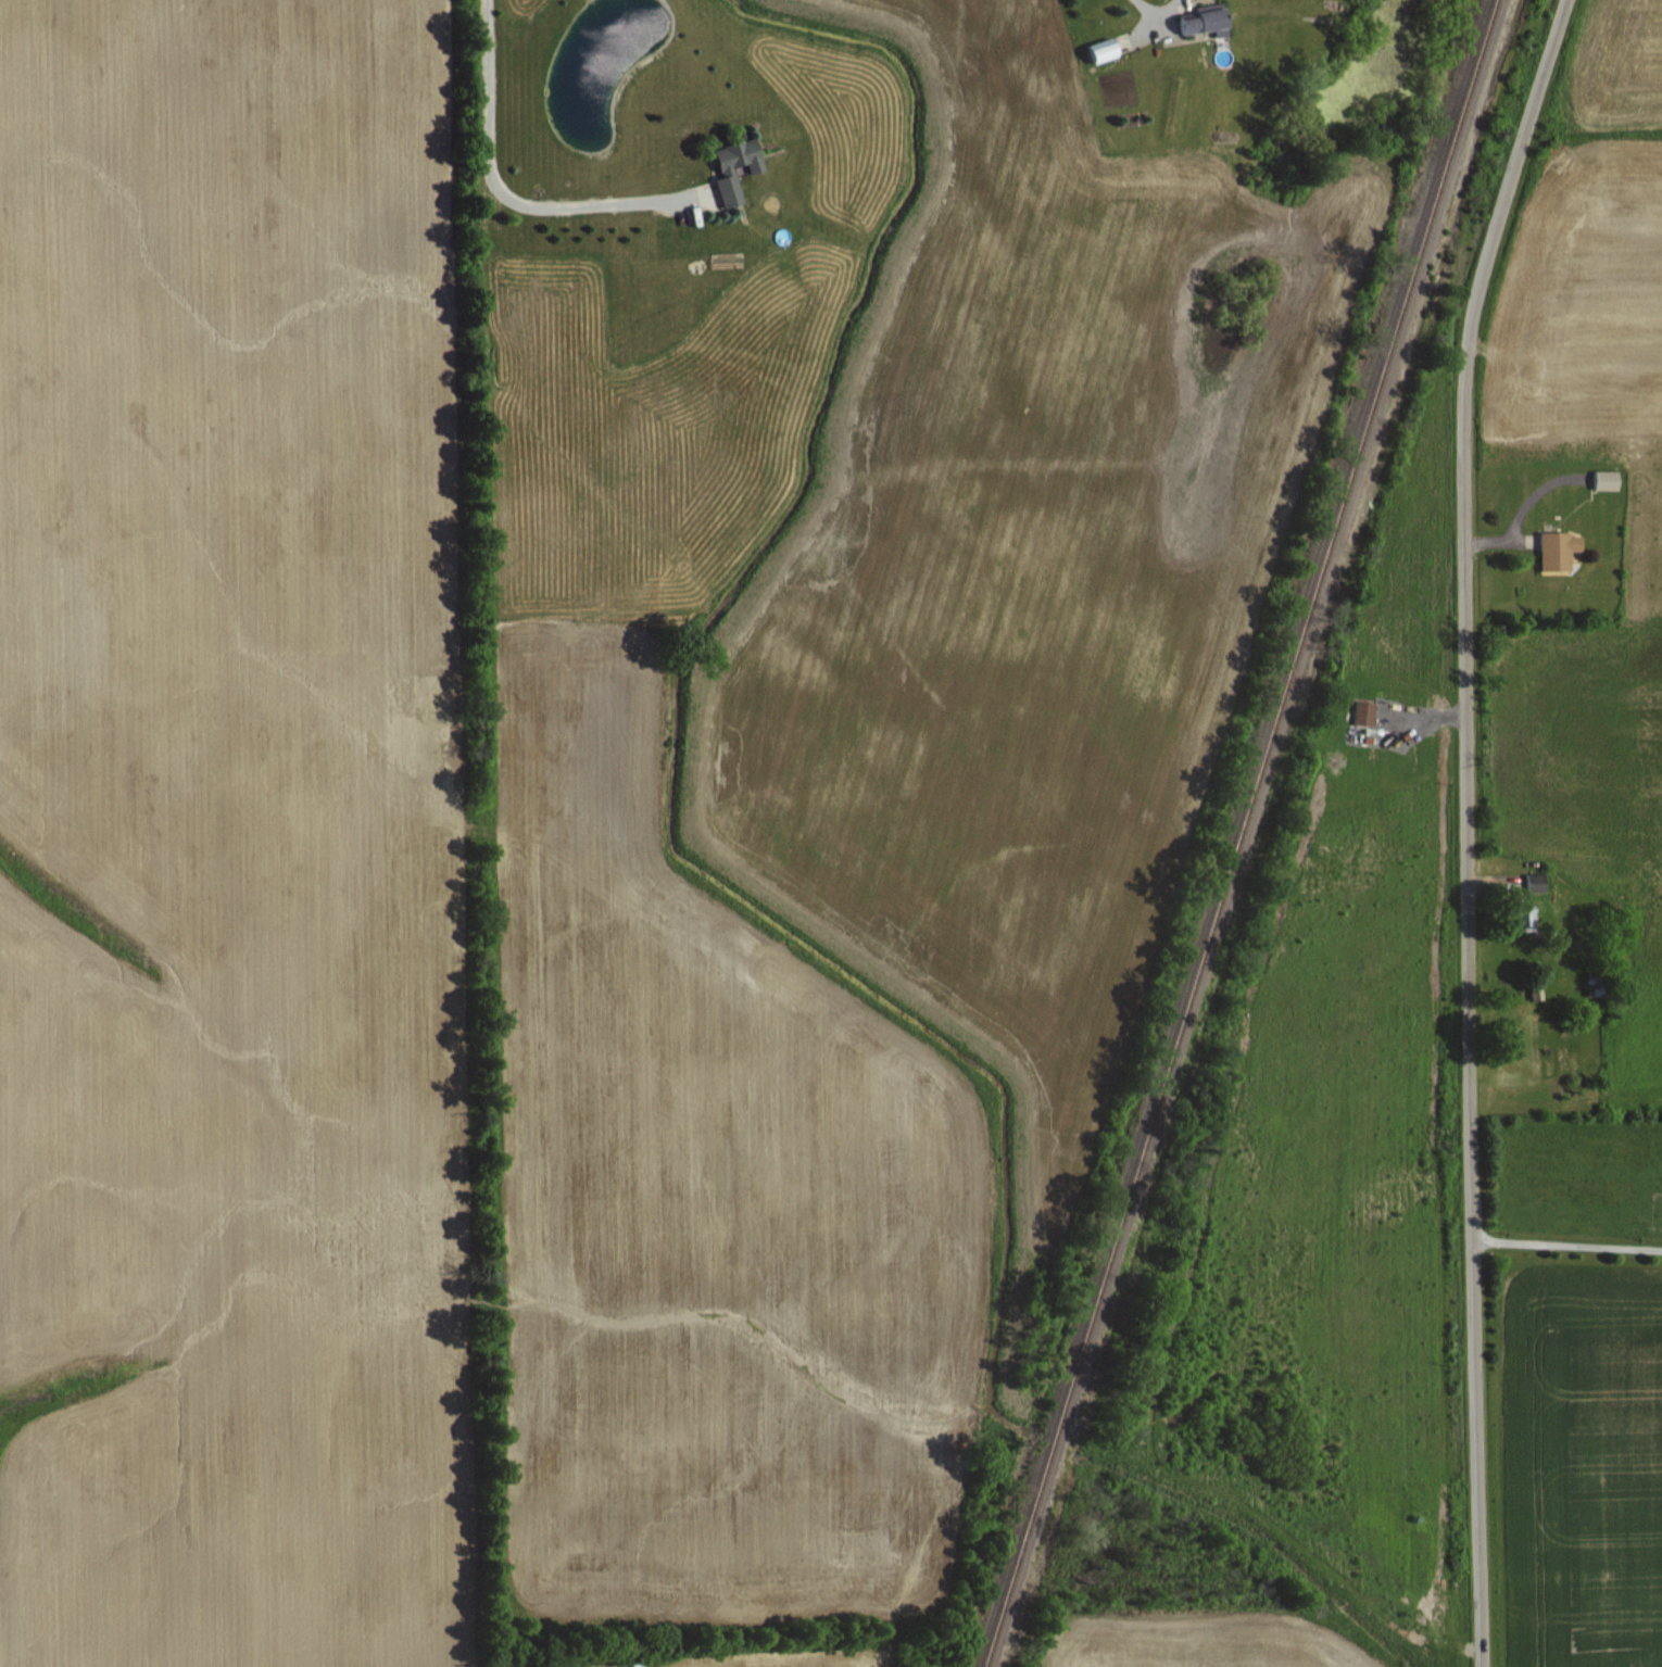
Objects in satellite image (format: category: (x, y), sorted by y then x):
road: (1156, 11)
building: (1204, 22)
building: (1103, 49)
building: (727, 172)
road: (498, 189)
building: (1607, 479)
building: (1559, 550)
building: (1363, 712)
road: (1469, 826)
railway: (1232, 833)
building: (1528, 883)
road: (1567, 1243)

